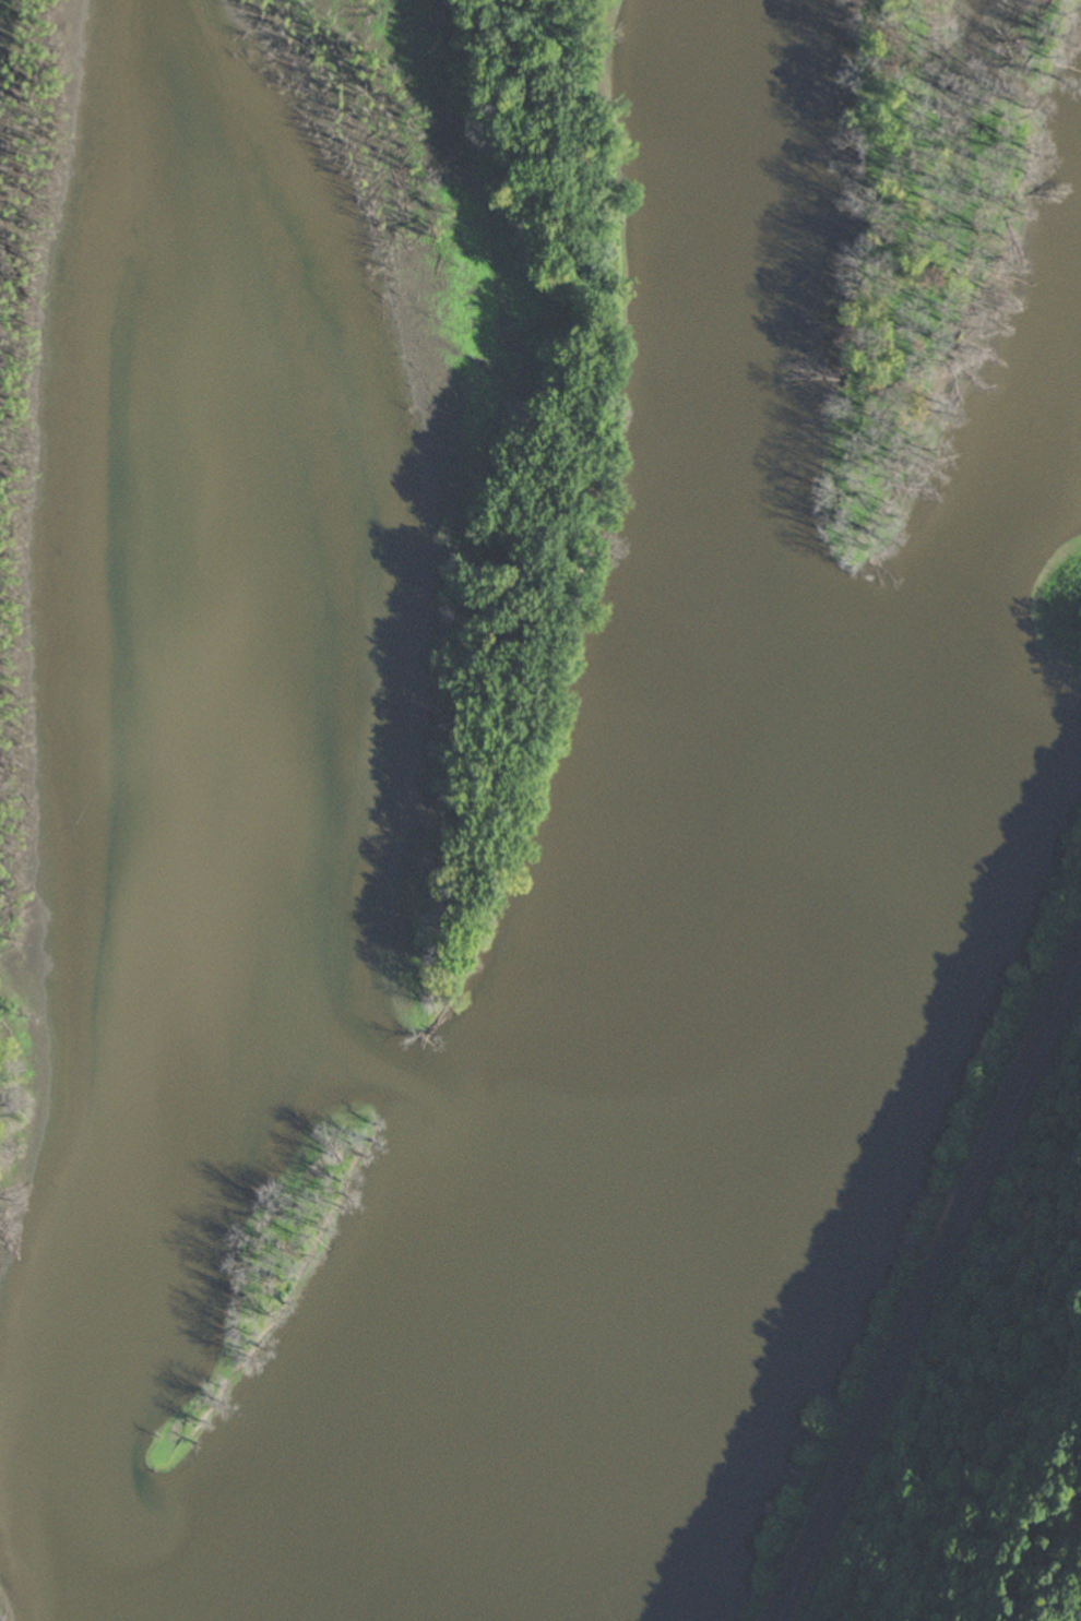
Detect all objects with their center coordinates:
railway: (924, 1276)
railway: (930, 1294)

